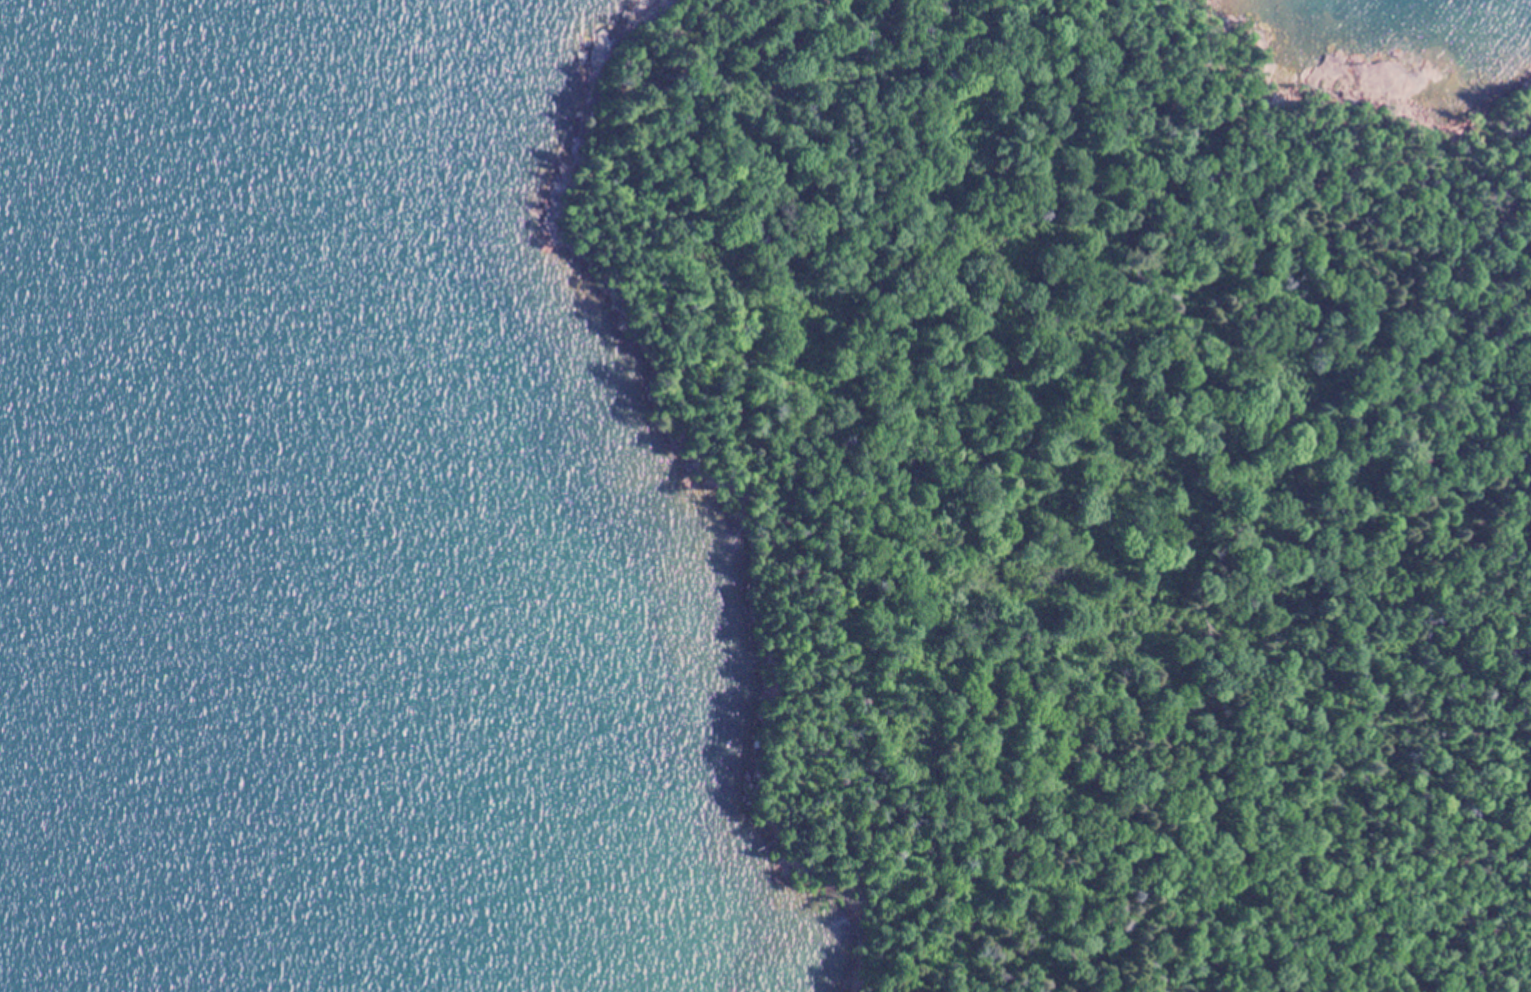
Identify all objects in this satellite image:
road: (848, 27)
road: (904, 689)

